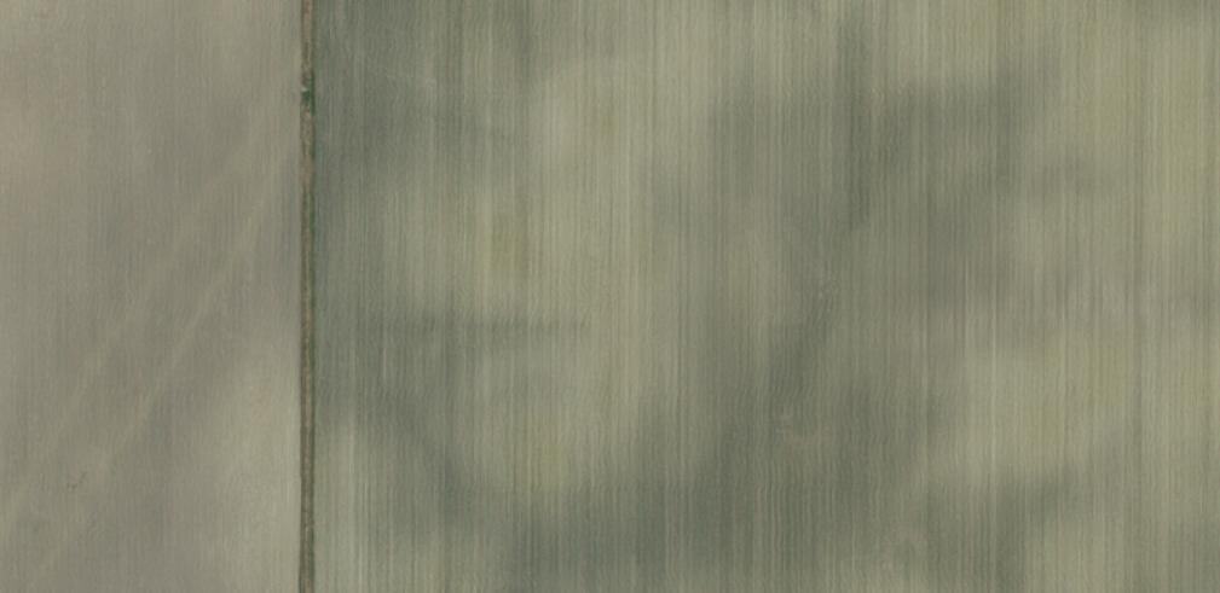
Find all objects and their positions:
road: (297, 296)

